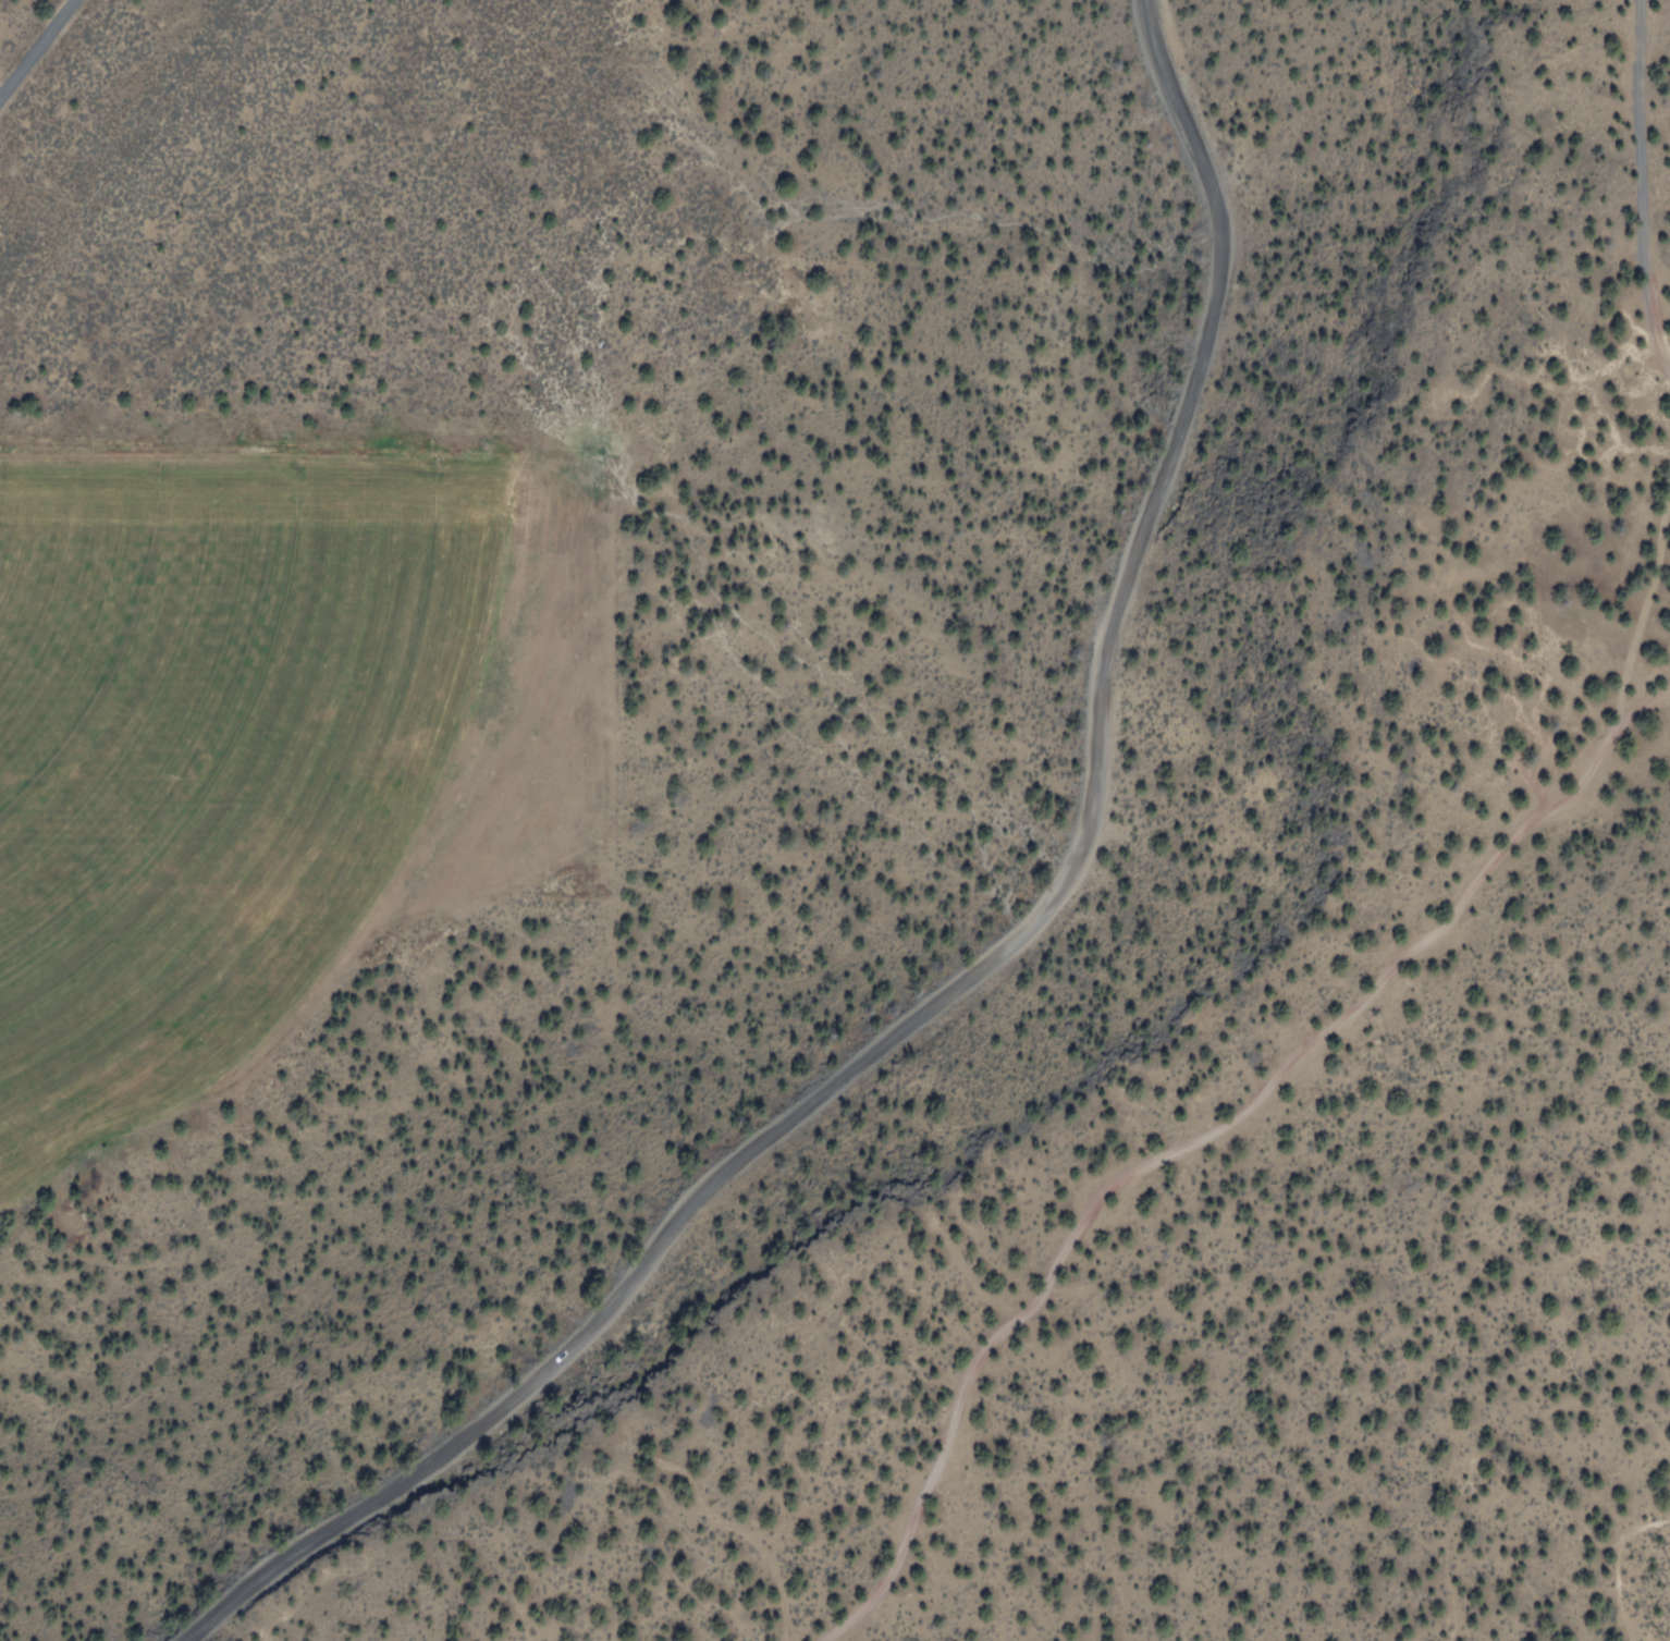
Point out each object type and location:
road: (12, 17)
road: (974, 972)
road: (1201, 1147)

